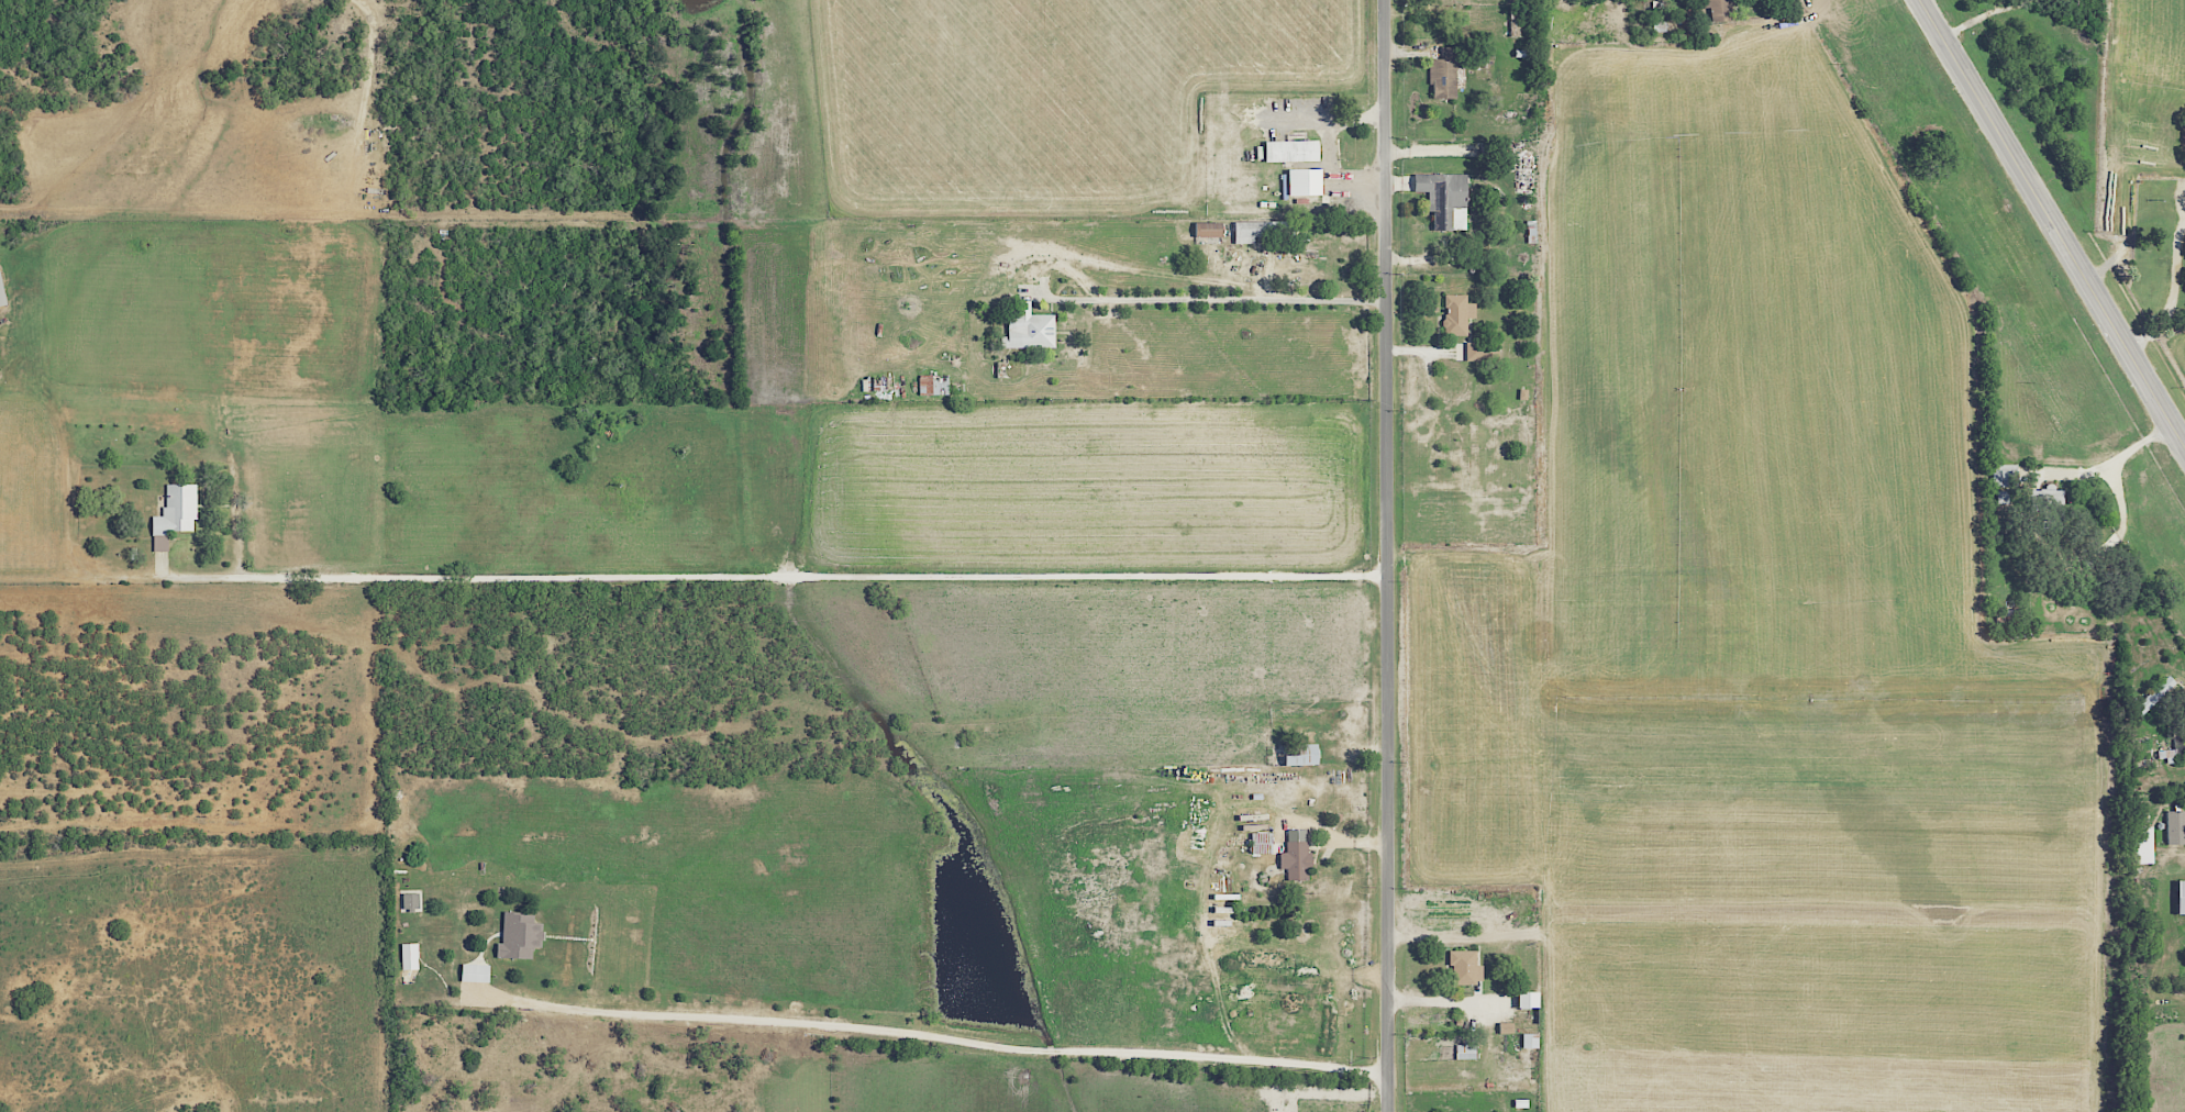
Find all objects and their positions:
building: (1720, 10)
road: (1982, 15)
building: (1444, 74)
crop: (2142, 86)
road: (1356, 119)
road: (1333, 142)
building: (1291, 152)
building: (1301, 184)
building: (1445, 199)
road: (2051, 225)
building: (1208, 230)
building: (1262, 231)
building: (2, 293)
road: (1052, 298)
road: (2177, 307)
building: (1458, 314)
building: (1030, 330)
building: (1475, 352)
building: (878, 383)
building: (2005, 475)
building: (2003, 497)
building: (175, 514)
road: (1389, 555)
road: (783, 577)
crop: (1762, 631)
building: (2153, 697)
building: (1302, 755)
building: (2176, 827)
building: (2142, 845)
building: (1296, 854)
building: (2181, 898)
building: (411, 900)
building: (519, 935)
building: (410, 956)
building: (1466, 967)
building: (475, 972)
building: (1528, 999)
road: (1449, 1001)
building: (1507, 1027)
road: (945, 1038)
building: (1530, 1041)
building: (1466, 1049)

